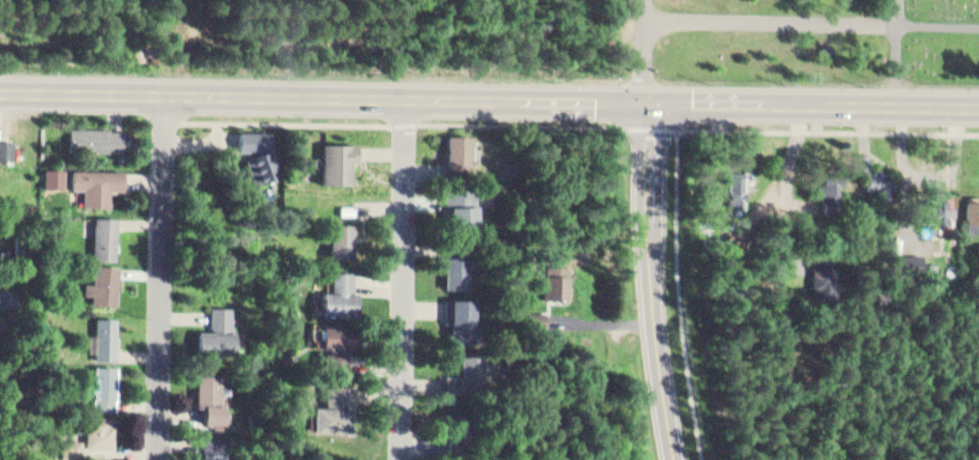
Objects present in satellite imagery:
road: (649, 8)
road: (898, 10)
road: (814, 19)
park: (500, 41)
road: (648, 59)
road: (489, 98)
traffic signals: (655, 100)
road: (281, 116)
road: (407, 117)
road: (524, 118)
road: (832, 124)
building: (96, 132)
building: (457, 143)
building: (259, 147)
building: (8, 150)
road: (654, 156)
building: (338, 157)
building: (874, 170)
building: (56, 172)
building: (98, 180)
building: (833, 182)
building: (738, 184)
building: (883, 184)
building: (460, 202)
building: (936, 204)
building: (972, 205)
building: (108, 232)
building: (341, 235)
building: (906, 250)
road: (681, 264)
building: (824, 265)
building: (455, 267)
building: (557, 276)
road: (165, 277)
building: (106, 279)
road: (406, 279)
building: (342, 294)
building: (10, 296)
building: (536, 313)
building: (459, 315)
building: (8, 319)
building: (220, 326)
building: (108, 332)
road: (659, 337)
building: (338, 342)
building: (462, 371)
building: (106, 383)
building: (210, 395)
building: (334, 406)
road: (930, 412)
road: (802, 424)
building: (455, 427)
building: (91, 433)
building: (214, 446)
building: (96, 457)

